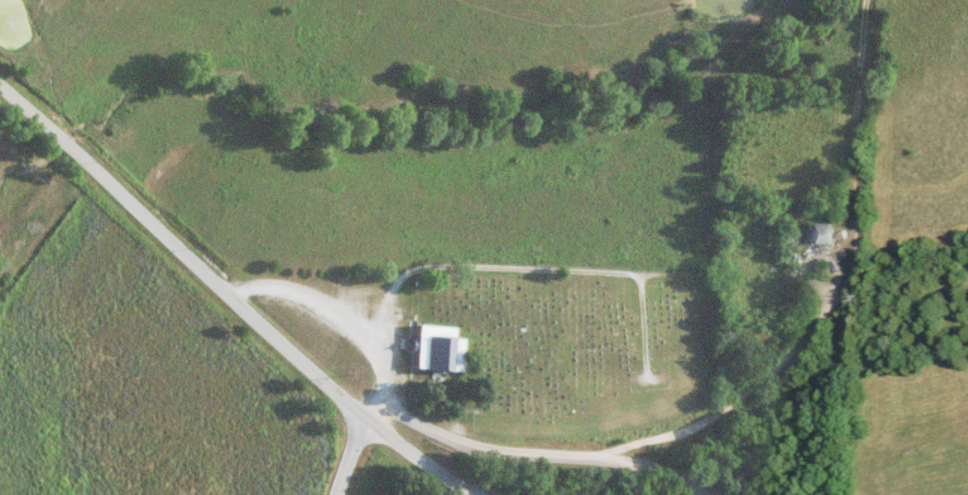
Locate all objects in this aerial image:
building: (817, 232)
road: (834, 295)
road: (232, 299)
road: (334, 312)
park: (548, 332)
building: (432, 348)
road: (349, 455)
road: (534, 456)

